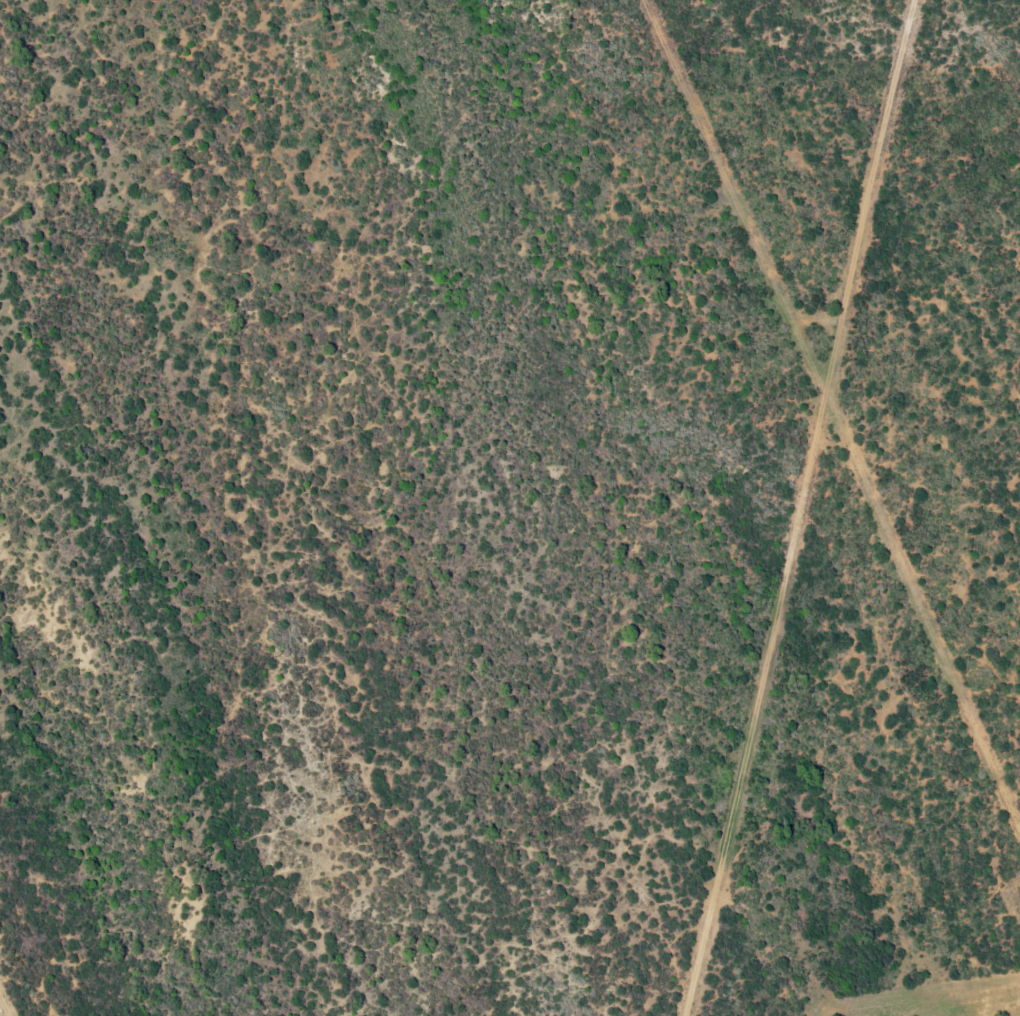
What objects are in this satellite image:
road: (799, 507)

